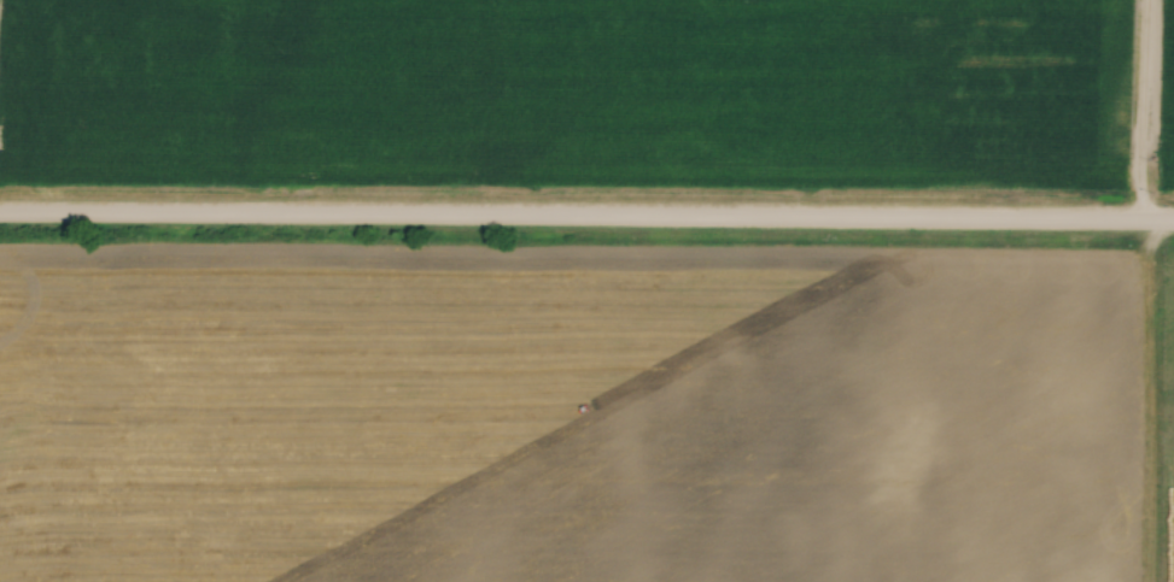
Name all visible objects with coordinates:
road: (1145, 113)
road: (586, 223)

